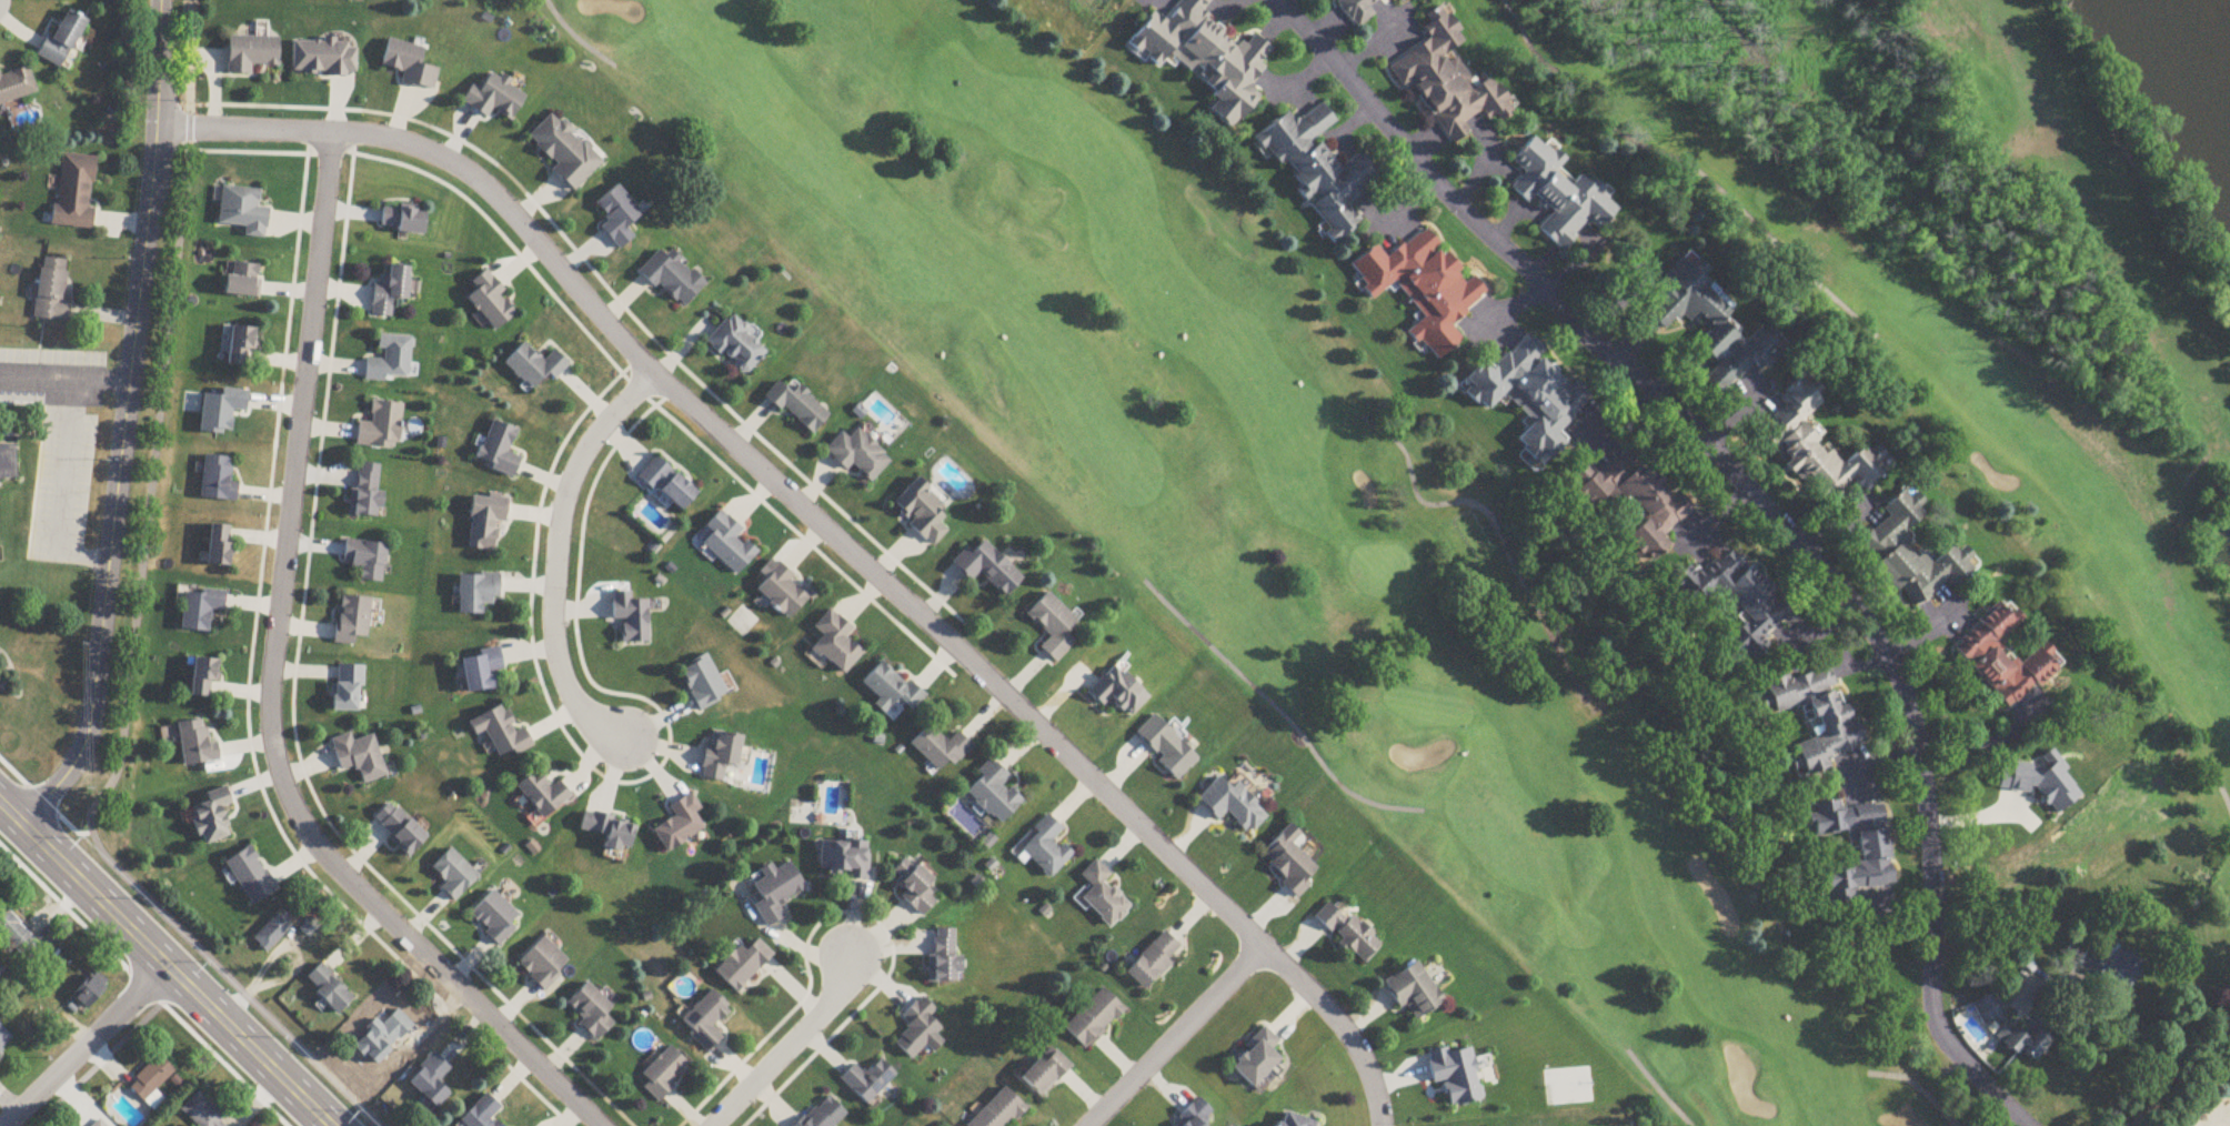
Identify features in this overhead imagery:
building: (1398, 0)
building: (1357, 10)
river: (2220, 18)
building: (61, 39)
building: (250, 53)
building: (1206, 57)
building: (323, 58)
building: (409, 66)
building: (1447, 80)
building: (16, 86)
building: (495, 98)
building: (565, 152)
building: (1320, 173)
building: (73, 192)
building: (1559, 194)
building: (243, 211)
building: (619, 217)
building: (402, 221)
building: (672, 278)
building: (242, 281)
building: (1424, 288)
building: (50, 291)
building: (390, 292)
building: (492, 304)
building: (1711, 325)
building: (736, 345)
building: (240, 346)
building: (392, 361)
building: (535, 365)
parking lot: (51, 380)
road: (64, 383)
building: (1530, 395)
building: (798, 406)
road: (124, 423)
building: (380, 428)
building: (499, 450)
building: (1818, 450)
building: (858, 454)
building: (6, 461)
park: (1610, 475)
building: (218, 480)
building: (667, 485)
building: (365, 491)
parking lot: (62, 493)
road: (56, 499)
building: (1635, 501)
road: (1761, 506)
building: (922, 512)
building: (485, 521)
road: (824, 530)
building: (727, 544)
building: (219, 546)
road: (559, 555)
building: (1913, 555)
building: (365, 561)
building: (987, 570)
building: (476, 594)
building: (782, 594)
building: (1735, 596)
building: (200, 610)
building: (631, 617)
building: (352, 621)
building: (1053, 626)
building: (836, 644)
building: (2005, 657)
building: (481, 672)
building: (203, 680)
building: (703, 684)
building: (348, 690)
building: (892, 692)
building: (1117, 693)
road: (270, 695)
building: (1817, 717)
building: (501, 734)
road: (1982, 743)
building: (197, 745)
building: (1165, 747)
building: (941, 748)
building: (721, 755)
building: (360, 758)
building: (994, 793)
building: (543, 795)
building: (1232, 806)
building: (212, 817)
building: (680, 825)
building: (400, 830)
building: (610, 833)
building: (1045, 847)
building: (1855, 849)
building: (843, 861)
building: (1288, 862)
building: (454, 876)
building: (251, 877)
building: (914, 887)
building: (775, 892)
building: (1102, 896)
building: (494, 919)
building: (1348, 933)
building: (272, 934)
building: (17, 936)
road: (181, 948)
building: (943, 956)
building: (1153, 962)
road: (164, 964)
building: (544, 965)
building: (743, 966)
building: (2117, 968)
road: (148, 981)
building: (329, 989)
building: (1414, 993)
building: (89, 994)
building: (591, 1013)
building: (707, 1019)
building: (1093, 1019)
building: (918, 1032)
building: (2016, 1032)
building: (383, 1037)
road: (1177, 1037)
building: (4, 1039)
road: (87, 1046)
road: (785, 1052)
road: (2158, 1058)
building: (1256, 1059)
building: (1045, 1073)
building: (664, 1075)
building: (431, 1082)
building: (867, 1082)
building: (151, 1083)
building: (1000, 1112)
road: (2218, 1113)
building: (200, 1114)
building: (482, 1114)
building: (823, 1114)
building: (1193, 1116)
building: (1294, 1122)
building: (102, 1123)

